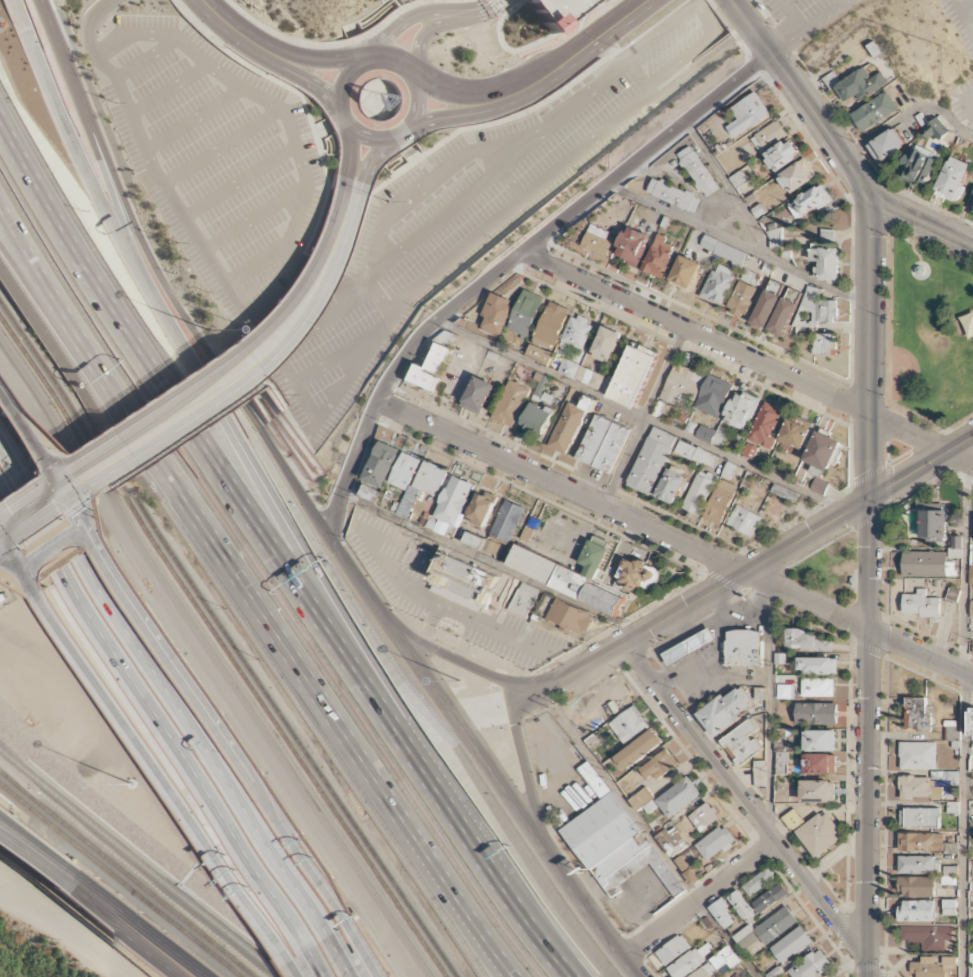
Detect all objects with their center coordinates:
road: (783, 1)
road: (82, 9)
road: (496, 9)
road: (969, 9)
building: (557, 11)
parking garage: (557, 11)
road: (477, 13)
road: (718, 15)
parking lot: (803, 15)
road: (706, 16)
parking lot: (961, 20)
road: (88, 24)
road: (399, 25)
road: (809, 26)
road: (750, 28)
road: (236, 31)
road: (780, 34)
road: (355, 35)
road: (56, 41)
road: (331, 45)
road: (533, 45)
road: (418, 46)
road: (575, 54)
road: (388, 57)
road: (145, 58)
road: (326, 61)
road: (701, 65)
road: (309, 83)
building: (860, 86)
road: (340, 87)
road: (168, 90)
road: (448, 92)
road: (252, 95)
road: (378, 100)
parking lot: (962, 103)
road: (368, 105)
road: (964, 105)
building: (751, 111)
building: (874, 111)
road: (909, 113)
road: (450, 116)
road: (193, 119)
road: (84, 121)
road: (374, 121)
road: (821, 126)
road: (327, 127)
road: (321, 131)
road: (316, 133)
road: (394, 135)
road: (69, 140)
building: (887, 145)
road: (220, 147)
road: (494, 147)
road: (407, 148)
building: (784, 149)
road: (404, 151)
road: (513, 154)
road: (348, 156)
road: (414, 157)
road: (371, 159)
building: (921, 167)
building: (698, 171)
building: (796, 173)
building: (954, 178)
road: (239, 182)
road: (509, 182)
road: (730, 189)
building: (674, 195)
road: (517, 200)
road: (119, 217)
road: (253, 218)
road: (920, 222)
road: (431, 223)
parking lot: (437, 230)
road: (358, 231)
building: (599, 241)
road: (198, 243)
building: (633, 246)
road: (741, 247)
building: (723, 249)
building: (659, 257)
building: (827, 262)
road: (509, 265)
road: (160, 267)
road: (253, 267)
building: (686, 272)
road: (317, 274)
building: (718, 283)
building: (743, 293)
road: (39, 295)
road: (282, 296)
road: (378, 298)
building: (767, 304)
building: (785, 312)
road: (322, 318)
road: (189, 325)
building: (577, 331)
park: (927, 334)
building: (825, 343)
building: (607, 345)
road: (751, 356)
road: (335, 358)
building: (431, 368)
road: (353, 369)
building: (635, 374)
road: (199, 375)
building: (682, 384)
building: (479, 394)
road: (212, 399)
building: (511, 403)
building: (740, 408)
road: (870, 412)
road: (641, 416)
road: (645, 416)
building: (539, 417)
building: (767, 424)
building: (604, 444)
building: (649, 464)
road: (130, 470)
traffic signals: (56, 473)
building: (670, 483)
building: (462, 484)
traffic signals: (72, 496)
road: (268, 497)
building: (484, 508)
road: (625, 516)
railway: (139, 522)
building: (933, 525)
traffic signals: (8, 539)
road: (275, 557)
road: (491, 563)
building: (927, 563)
building: (572, 573)
building: (971, 576)
building: (465, 581)
building: (914, 583)
road: (719, 589)
road: (251, 595)
building: (522, 600)
building: (921, 603)
building: (972, 609)
building: (570, 617)
road: (396, 633)
railway: (230, 635)
building: (805, 641)
building: (691, 646)
building: (744, 648)
road: (921, 654)
railway: (215, 657)
road: (466, 665)
building: (818, 666)
road: (166, 677)
road: (198, 681)
building: (818, 686)
building: (786, 693)
road: (157, 705)
road: (770, 709)
building: (918, 713)
building: (718, 716)
road: (962, 717)
building: (971, 722)
road: (148, 739)
building: (820, 740)
building: (742, 742)
building: (918, 755)
building: (657, 766)
road: (527, 779)
building: (819, 791)
building: (679, 796)
road: (741, 796)
road: (867, 803)
building: (921, 817)
building: (814, 830)
road: (648, 835)
building: (613, 839)
building: (716, 842)
road: (35, 843)
road: (542, 848)
railway: (361, 853)
road: (30, 860)
railway: (108, 860)
railway: (136, 864)
railway: (120, 879)
building: (918, 886)
building: (772, 897)
road: (699, 902)
road: (138, 922)
building: (778, 925)
road: (120, 929)
road: (67, 932)
road: (478, 944)
building: (793, 944)
road: (348, 952)
road: (326, 957)
river: (26, 958)
railway: (232, 963)
railway: (234, 963)
road: (305, 964)
building: (812, 965)
building: (776, 972)

